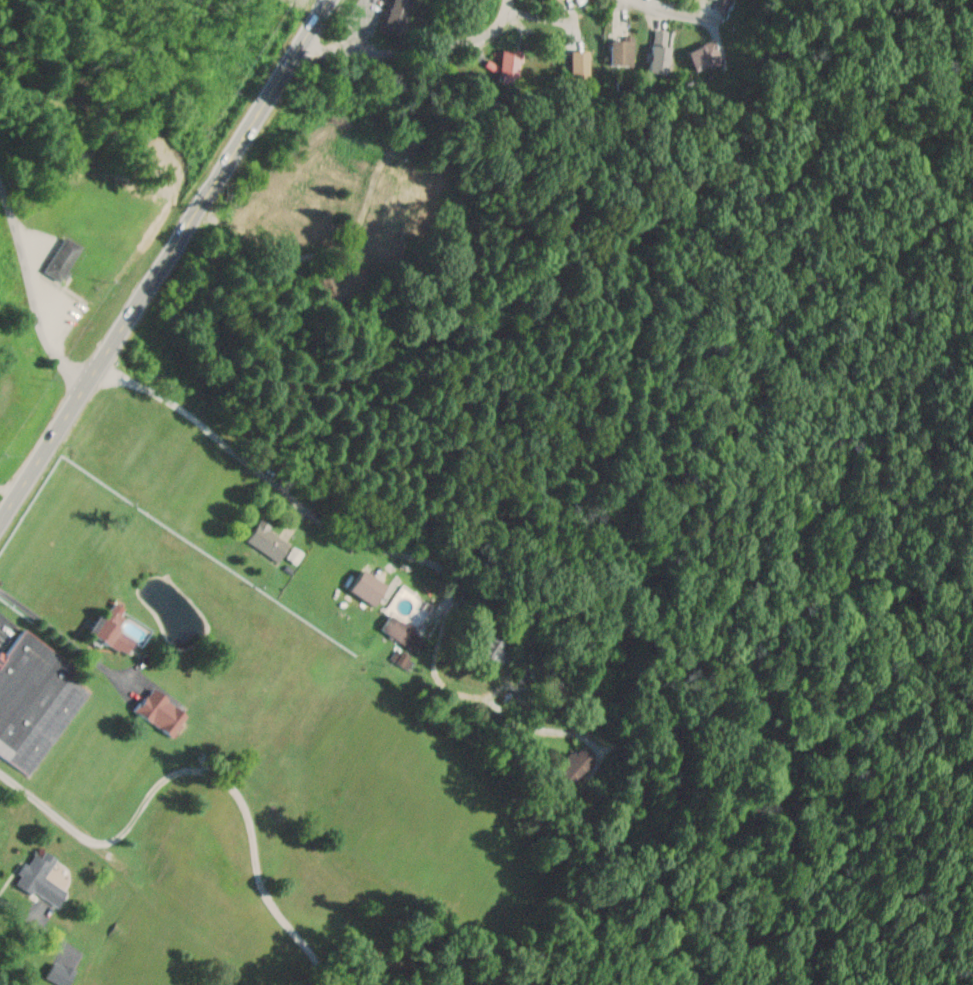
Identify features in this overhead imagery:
road: (675, 10)
building: (399, 15)
road: (417, 49)
building: (620, 50)
building: (660, 51)
building: (707, 57)
building: (578, 59)
building: (508, 65)
building: (66, 258)
road: (167, 262)
road: (49, 310)
building: (177, 432)
road: (291, 500)
building: (270, 541)
building: (117, 633)
building: (405, 633)
building: (36, 697)
building: (164, 711)
building: (43, 880)

